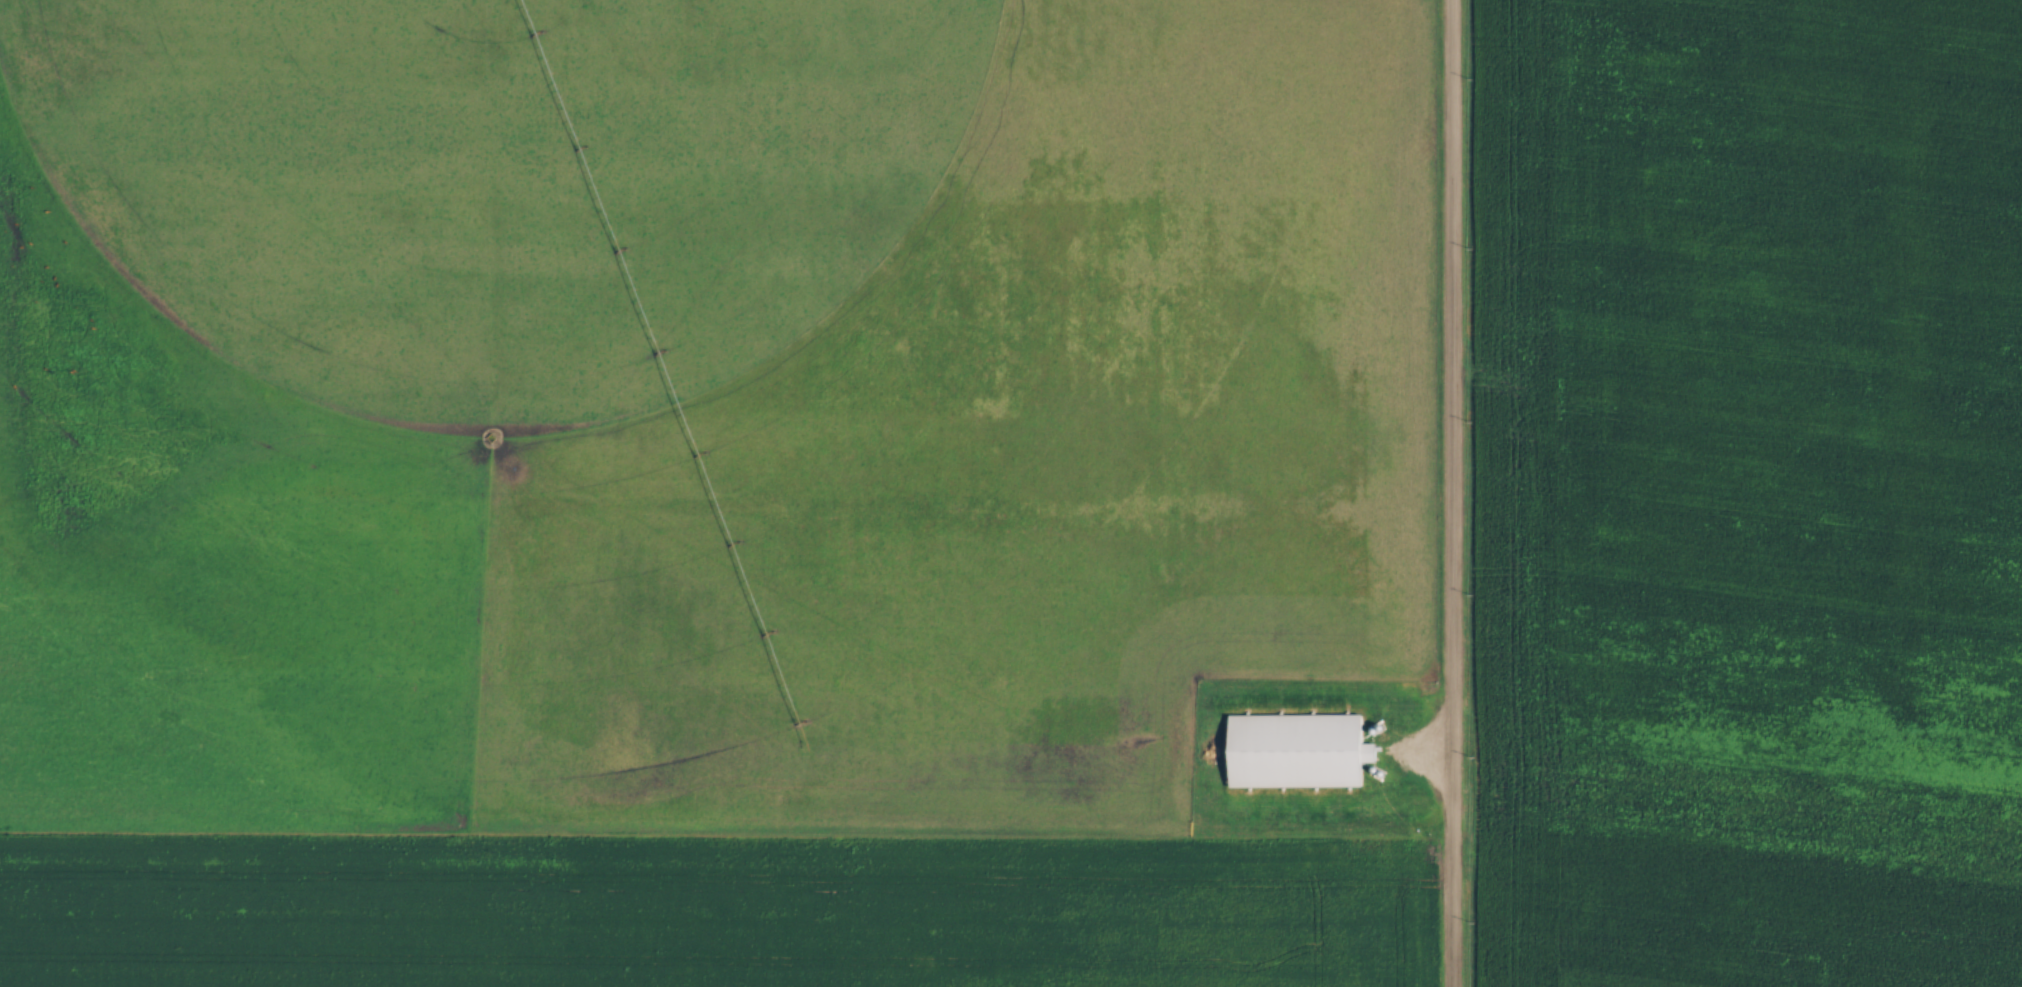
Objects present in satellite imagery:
road: (1449, 493)
building: (1297, 747)

